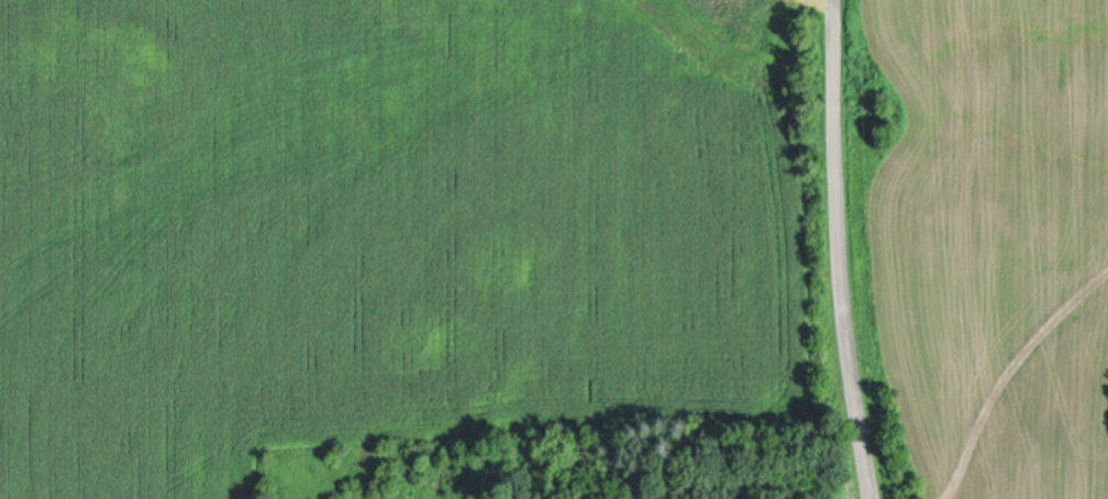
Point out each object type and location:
road: (838, 249)

